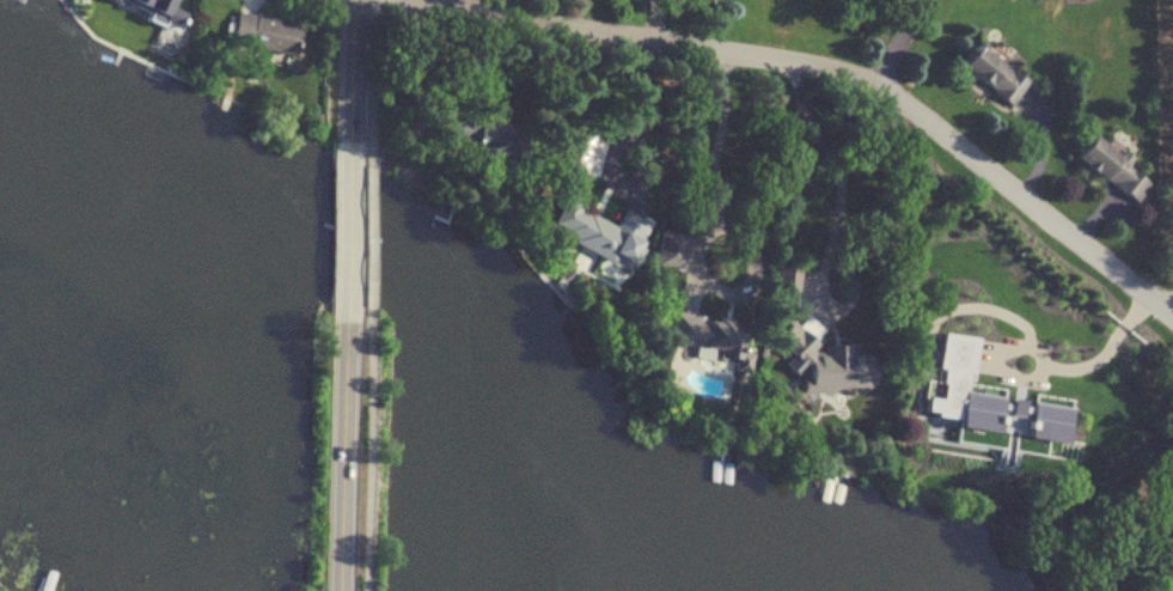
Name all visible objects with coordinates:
road: (543, 10)
road: (653, 19)
building: (263, 33)
road: (899, 44)
road: (352, 75)
road: (835, 75)
building: (990, 75)
road: (374, 80)
road: (641, 106)
building: (484, 139)
building: (1108, 169)
road: (838, 183)
road: (347, 231)
road: (696, 233)
building: (601, 234)
road: (367, 236)
river: (393, 278)
building: (786, 280)
building: (702, 335)
building: (823, 361)
road: (1082, 366)
building: (953, 421)
road: (343, 450)
road: (367, 450)
building: (1168, 531)

